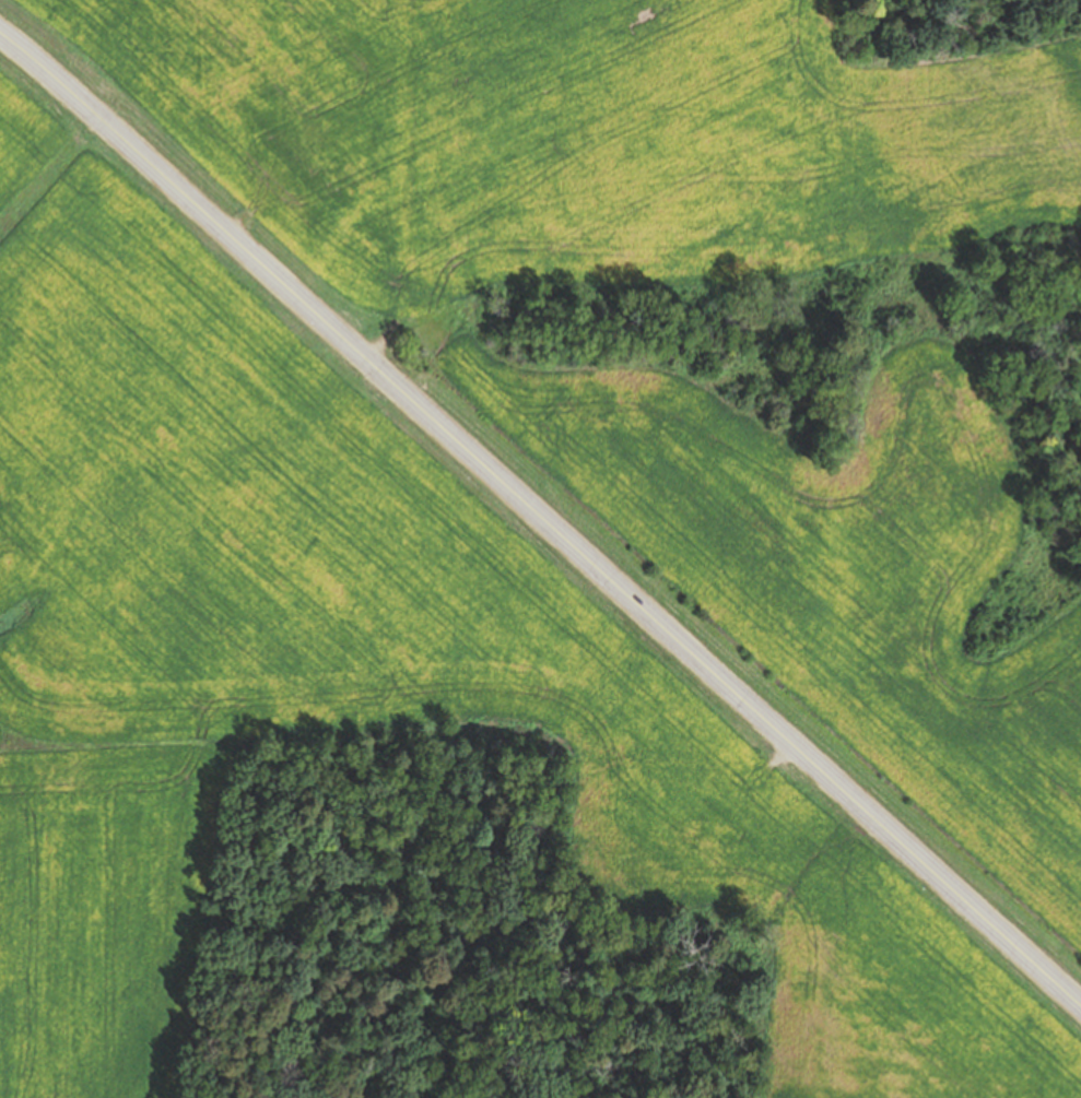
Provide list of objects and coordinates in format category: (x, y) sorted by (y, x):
road: (542, 523)

